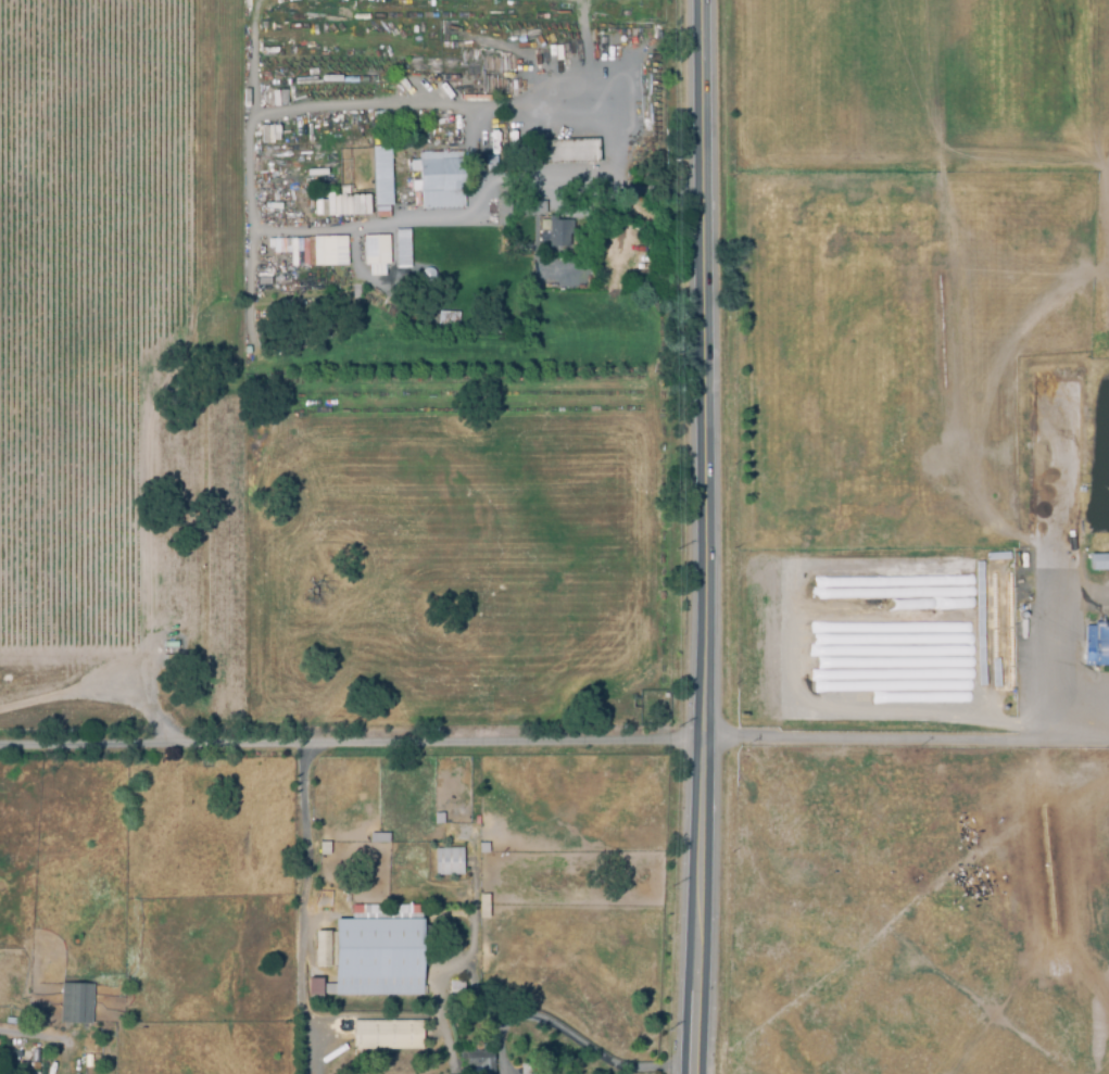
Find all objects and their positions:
road: (259, 10)
road: (583, 11)
road: (588, 41)
road: (252, 53)
road: (346, 81)
road: (556, 93)
road: (513, 109)
building: (268, 132)
building: (565, 152)
building: (490, 164)
road: (582, 169)
building: (380, 175)
building: (440, 177)
road: (257, 226)
building: (558, 232)
building: (401, 247)
building: (375, 253)
road: (247, 280)
road: (705, 536)
building: (995, 558)
building: (1099, 563)
building: (976, 627)
building: (1096, 645)
road: (1047, 662)
building: (993, 674)
road: (907, 738)
road: (353, 745)
building: (325, 849)
building: (486, 849)
building: (452, 862)
building: (484, 907)
road: (303, 910)
building: (362, 913)
building: (420, 913)
building: (373, 958)
building: (457, 991)
building: (76, 1004)
building: (388, 1036)
road: (570, 1036)
building: (477, 1060)
building: (30, 1063)
building: (525, 1069)
building: (534, 1072)

